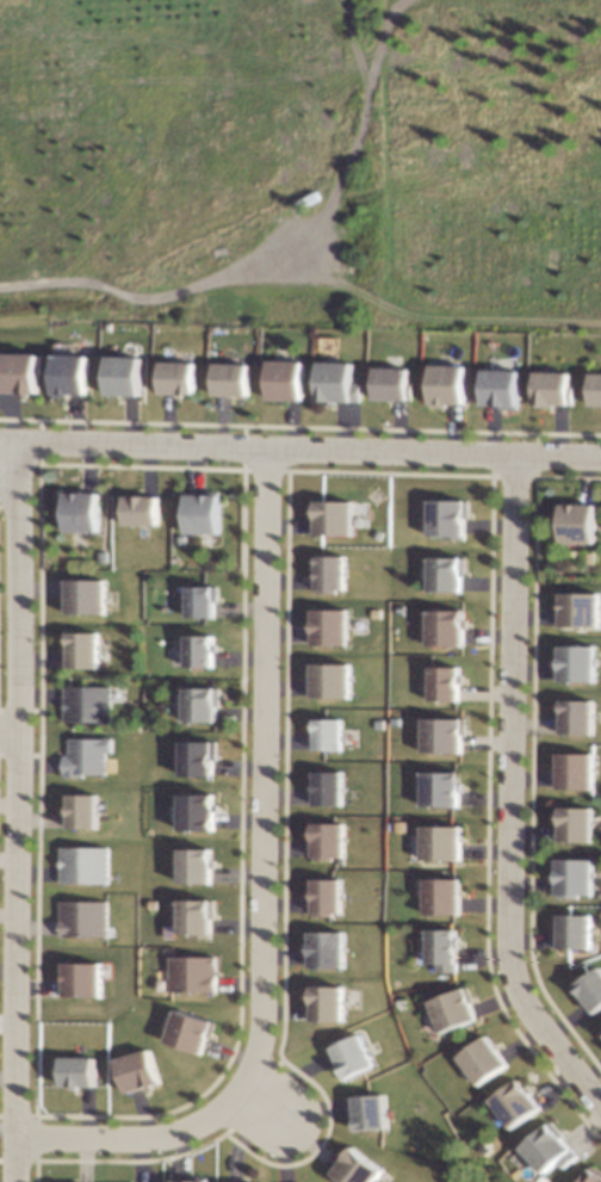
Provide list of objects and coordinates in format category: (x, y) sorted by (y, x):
crop: (300, 138)
road: (175, 292)
building: (31, 372)
building: (80, 375)
building: (132, 375)
building: (185, 376)
building: (292, 377)
building: (237, 378)
building: (340, 379)
building: (397, 383)
building: (452, 383)
building: (507, 384)
building: (557, 386)
building: (597, 388)
road: (10, 446)
road: (310, 448)
building: (88, 510)
building: (145, 510)
building: (207, 514)
building: (340, 518)
building: (451, 518)
building: (581, 520)
building: (452, 570)
building: (339, 573)
building: (89, 596)
building: (207, 601)
building: (584, 607)
building: (452, 625)
building: (335, 627)
building: (87, 649)
building: (209, 649)
building: (582, 662)
building: (335, 677)
building: (452, 683)
building: (88, 703)
building: (206, 703)
building: (582, 714)
road: (7, 728)
building: (334, 730)
building: (450, 734)
building: (204, 755)
building: (88, 756)
building: (582, 769)
building: (334, 785)
building: (448, 787)
road: (512, 794)
building: (204, 809)
building: (86, 810)
road: (16, 812)
building: (582, 823)
building: (334, 840)
building: (448, 841)
building: (204, 860)
building: (88, 866)
building: (578, 875)
road: (267, 892)
building: (447, 895)
building: (332, 897)
building: (200, 916)
building: (87, 917)
building: (581, 932)
building: (450, 945)
building: (332, 951)
building: (199, 973)
building: (89, 978)
building: (591, 994)
building: (335, 1003)
building: (459, 1010)
building: (196, 1031)
building: (357, 1056)
building: (490, 1062)
building: (142, 1069)
building: (82, 1071)
building: (523, 1102)
road: (268, 1109)
building: (376, 1113)
building: (554, 1149)
building: (365, 1168)
building: (595, 1175)
building: (185, 1181)
building: (238, 1181)

